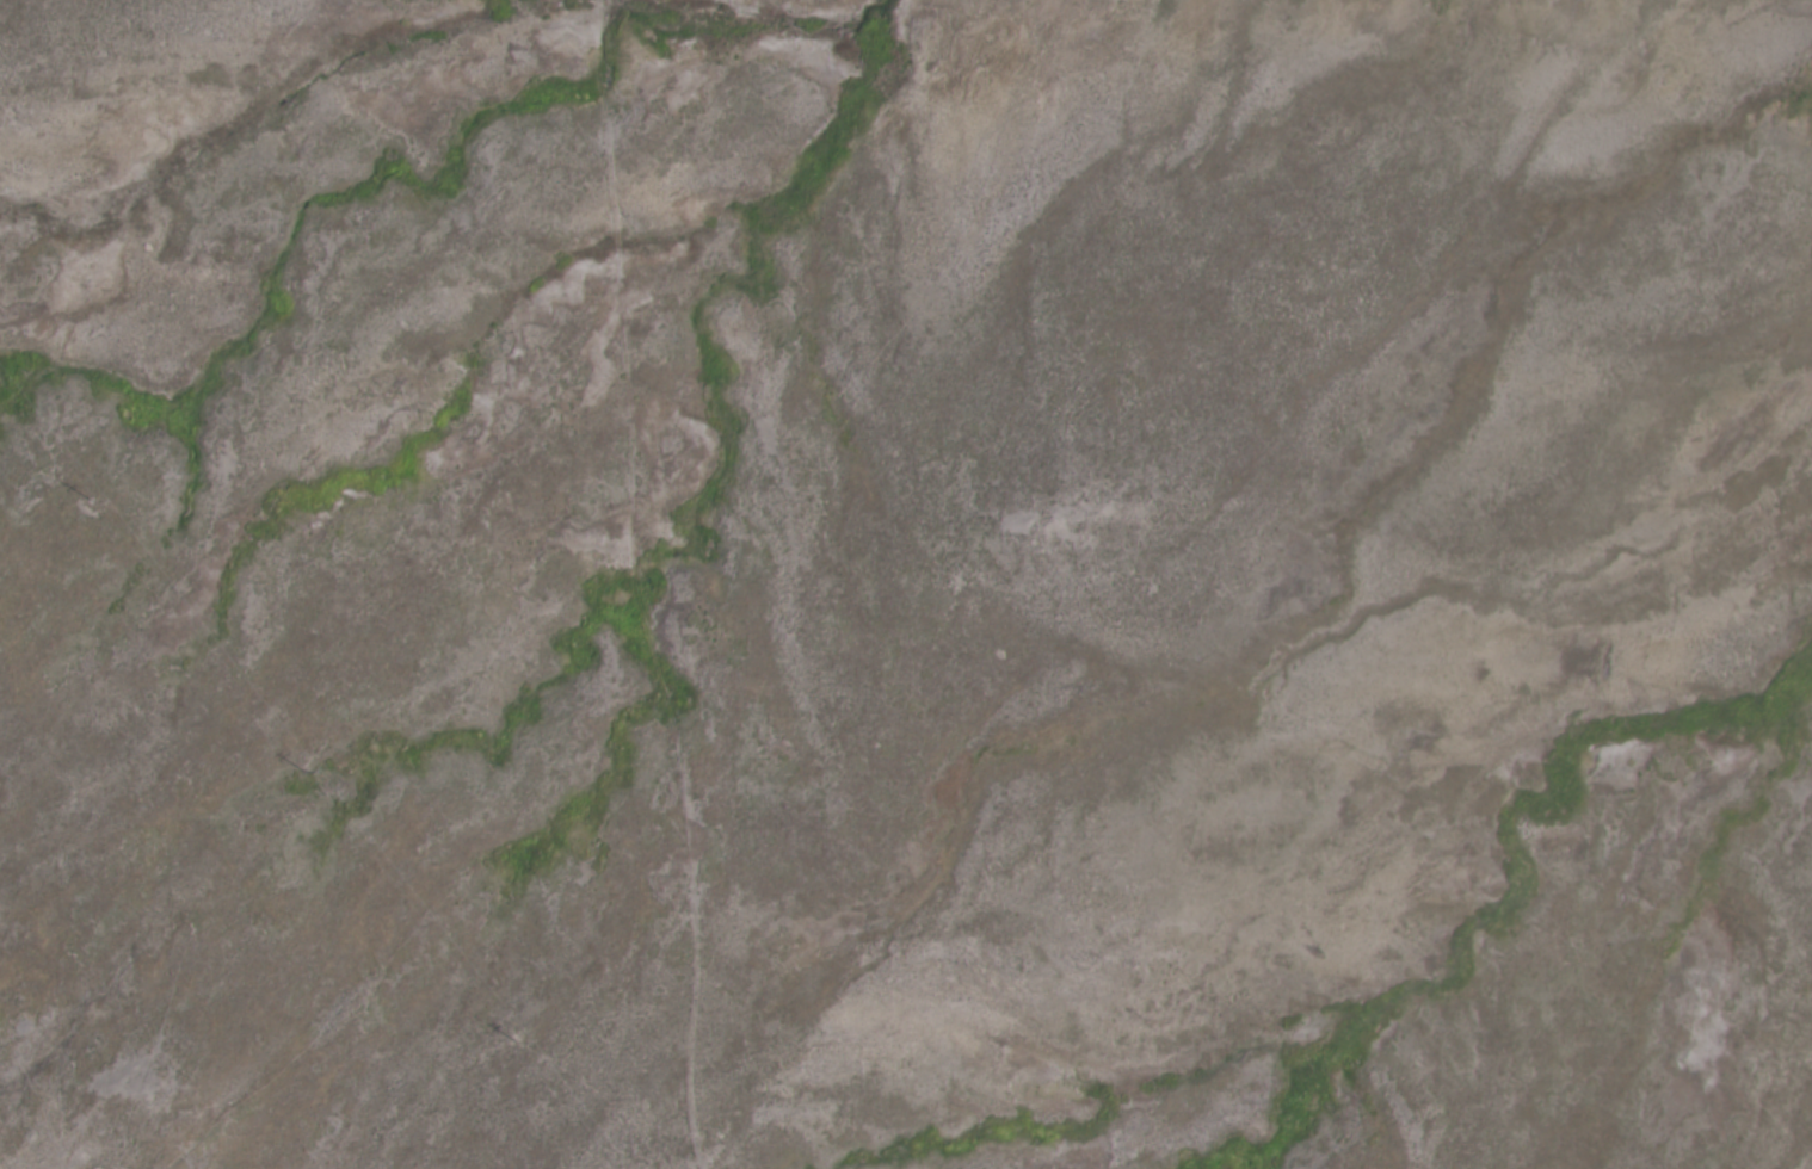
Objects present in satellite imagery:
power tower: (100, 502)
power tower: (314, 769)
power tower: (525, 1044)

